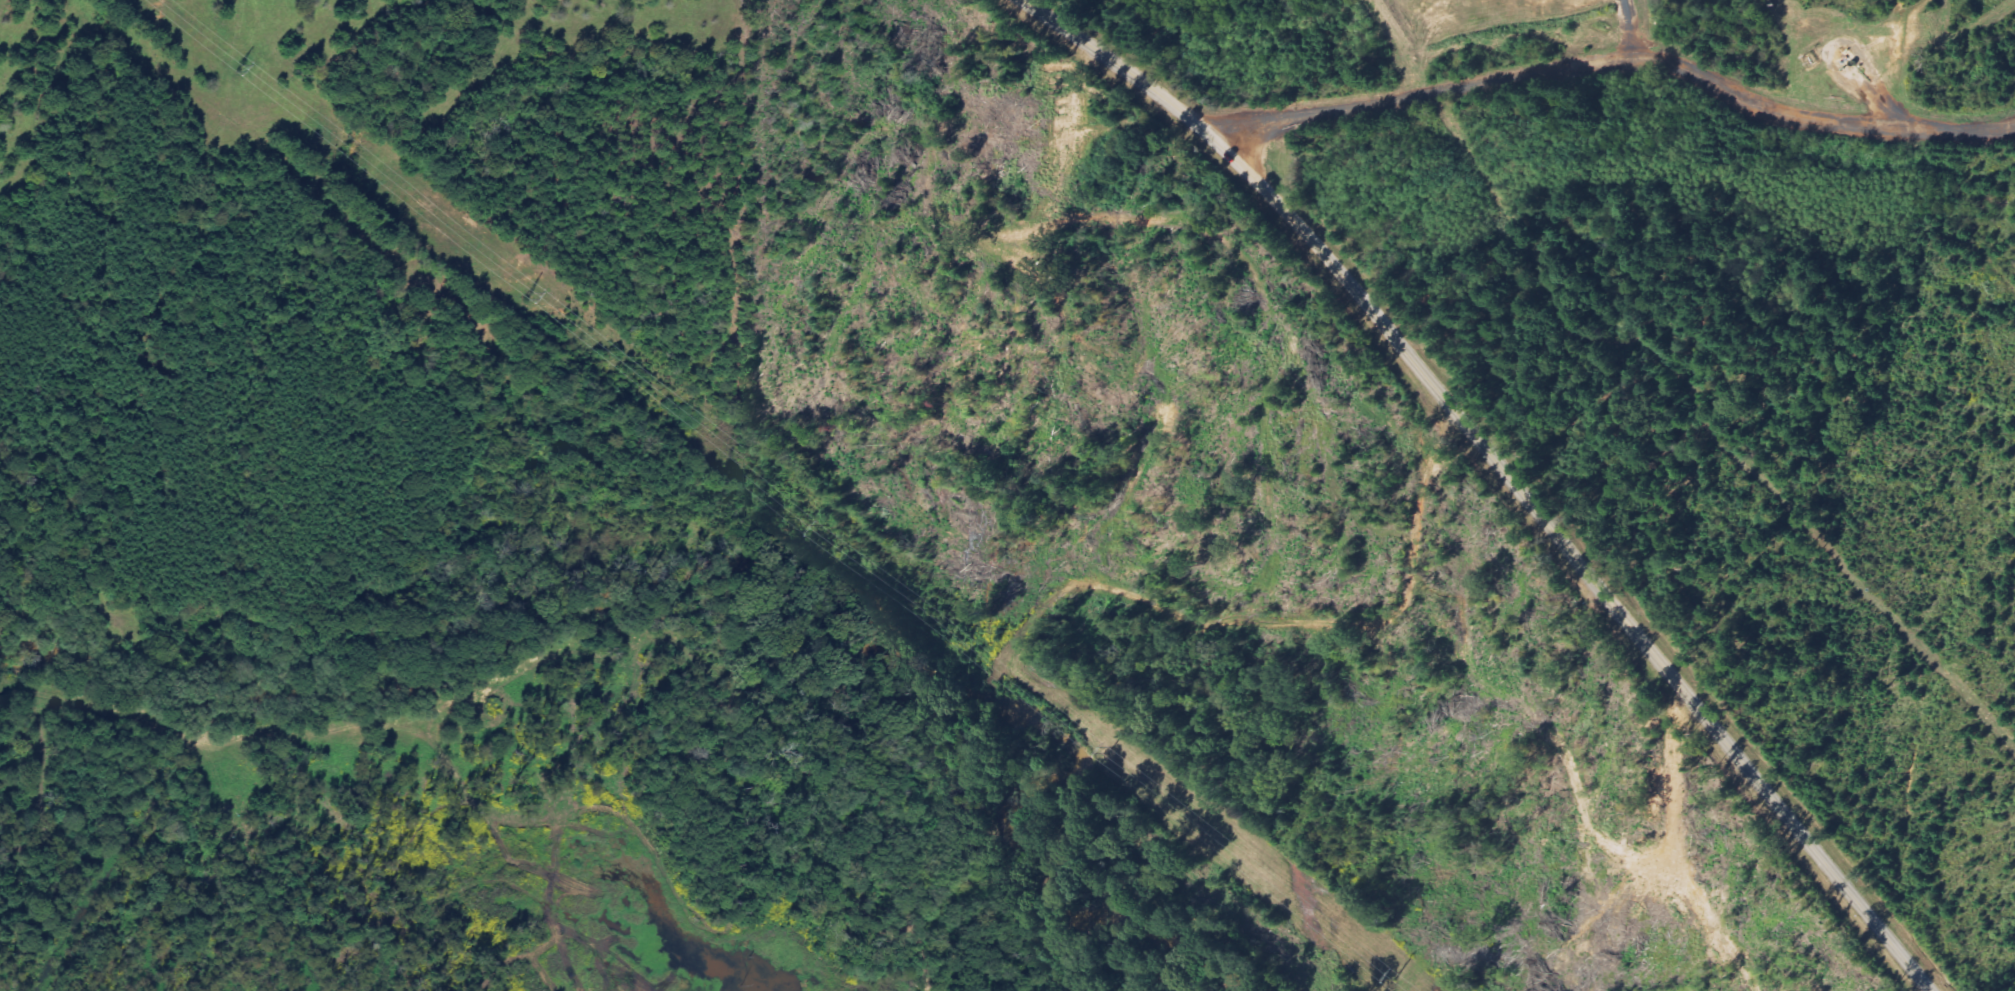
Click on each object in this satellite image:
road: (1615, 62)
power tower: (224, 66)
power tower: (523, 295)
road: (1499, 467)
power tower: (817, 527)
road: (1110, 587)
power tower: (1104, 750)
power tower: (1393, 976)

